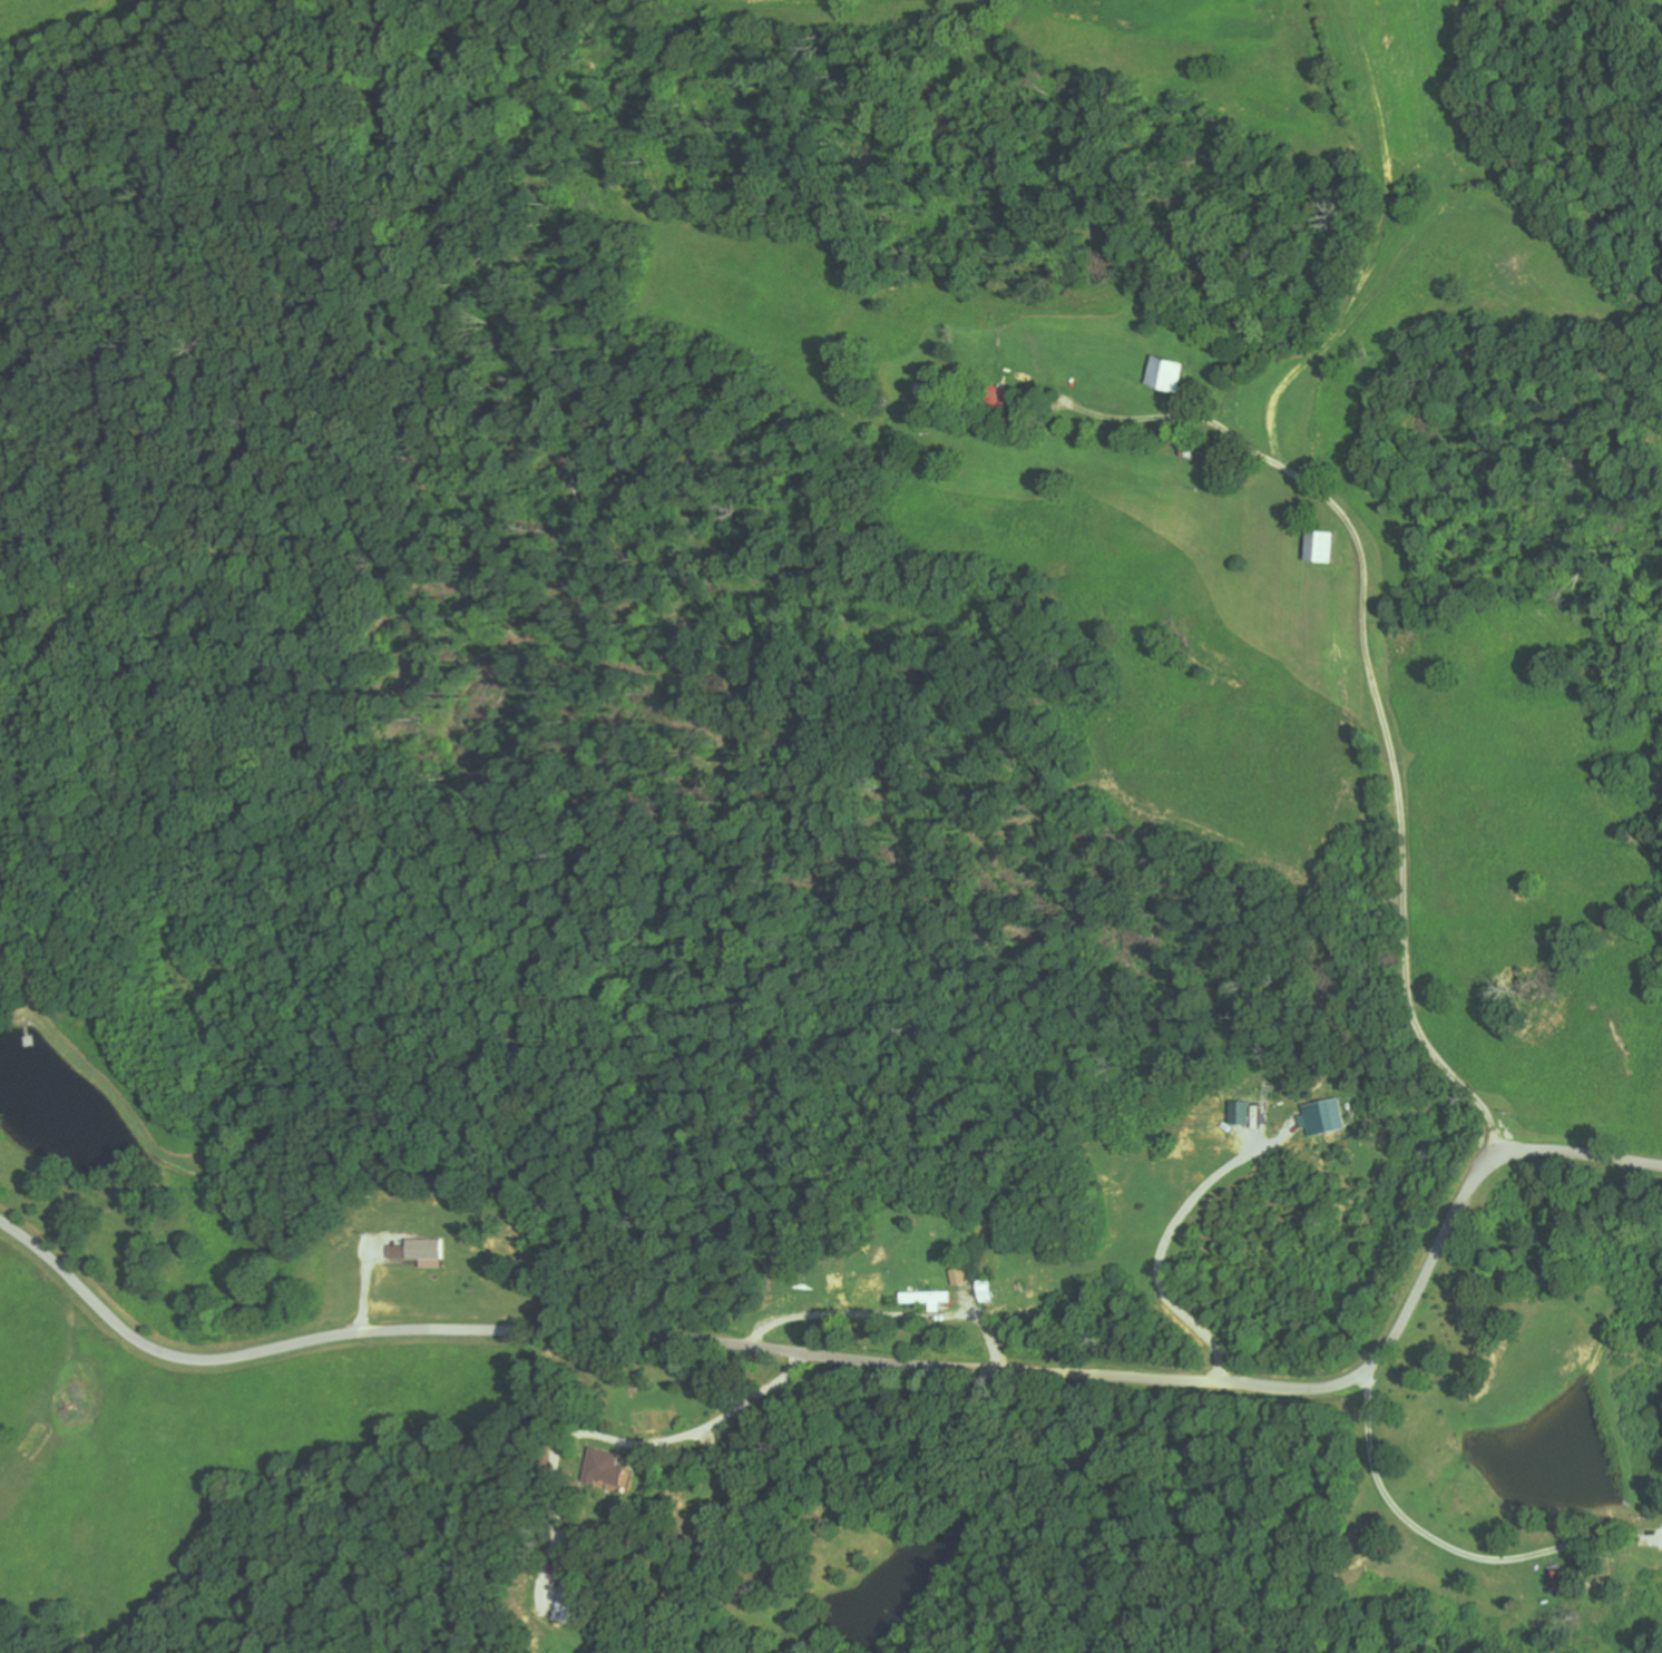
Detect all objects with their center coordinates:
building: (1162, 375)
building: (994, 395)
road: (1338, 556)
building: (1238, 1112)
building: (1321, 1115)
building: (419, 1251)
building: (925, 1298)
road: (868, 1357)
building: (602, 1466)
road: (282, 1471)
road: (537, 1504)
road: (304, 1624)

